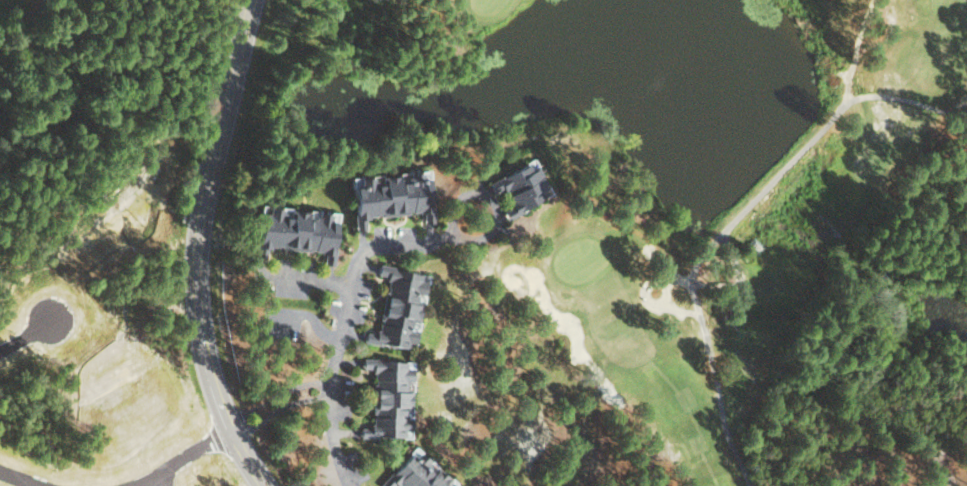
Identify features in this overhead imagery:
road: (27, 12)
dam: (764, 178)
building: (520, 187)
building: (389, 196)
road: (966, 198)
road: (493, 205)
building: (294, 231)
park: (646, 244)
road: (199, 247)
road: (730, 257)
road: (303, 277)
building: (398, 307)
road: (345, 318)
road: (25, 336)
building: (389, 398)
road: (334, 433)
road: (180, 460)
road: (24, 478)

